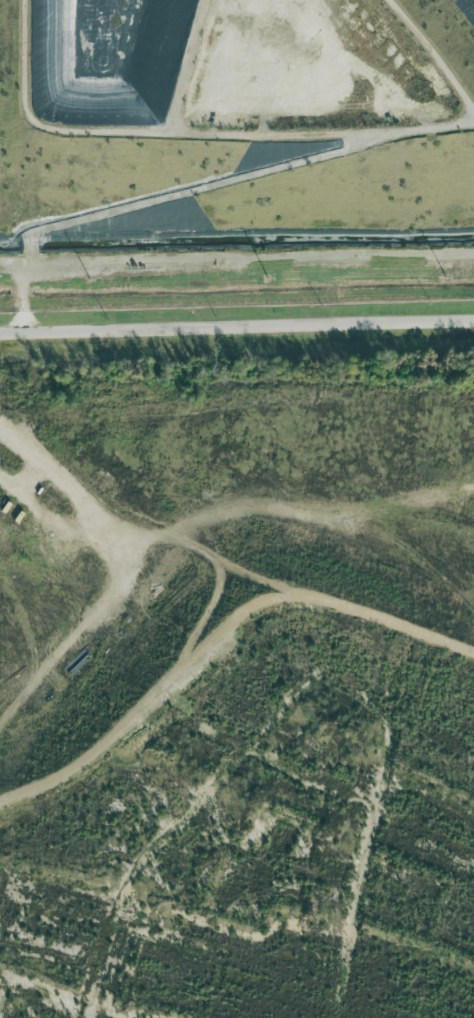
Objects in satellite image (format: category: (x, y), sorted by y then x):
road: (237, 327)
road: (155, 520)
road: (393, 625)
road: (157, 692)

